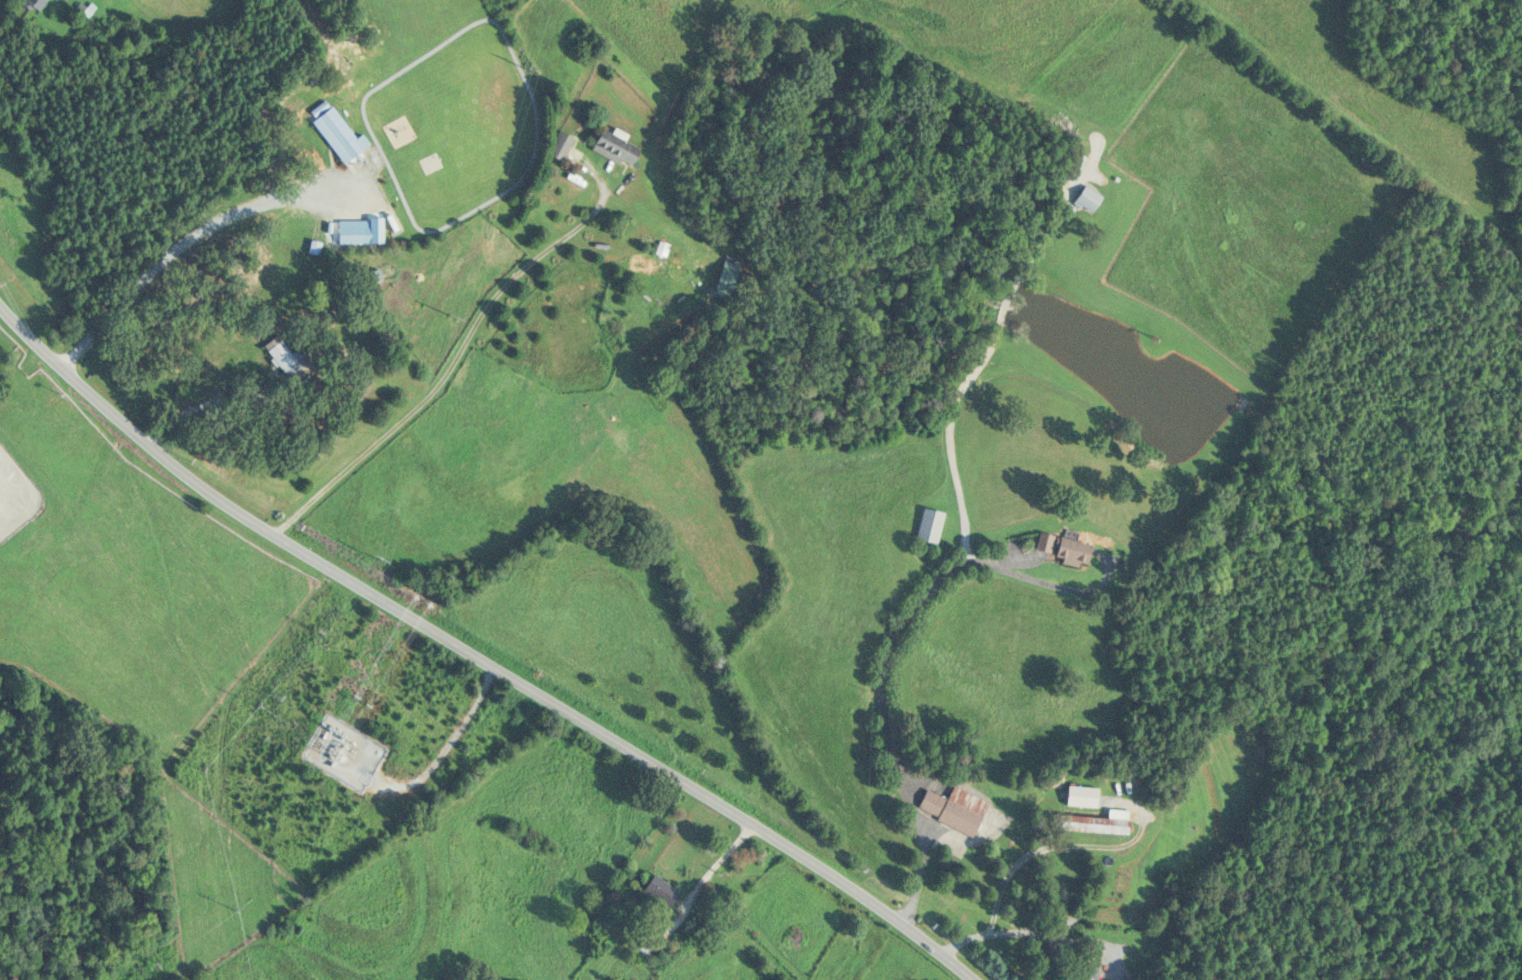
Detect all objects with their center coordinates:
building: (34, 3)
building: (335, 133)
building: (558, 145)
building: (612, 145)
building: (1072, 165)
building: (1086, 198)
building: (347, 233)
road: (185, 239)
building: (669, 269)
building: (723, 277)
road: (455, 357)
road: (200, 399)
building: (929, 525)
road: (964, 532)
building: (1060, 548)
road: (1045, 582)
road: (471, 655)
road: (448, 743)
power substation: (343, 751)
building: (950, 809)
building: (1090, 822)
road: (713, 868)
building: (657, 891)
road: (1036, 934)
building: (644, 947)
building: (1083, 968)

